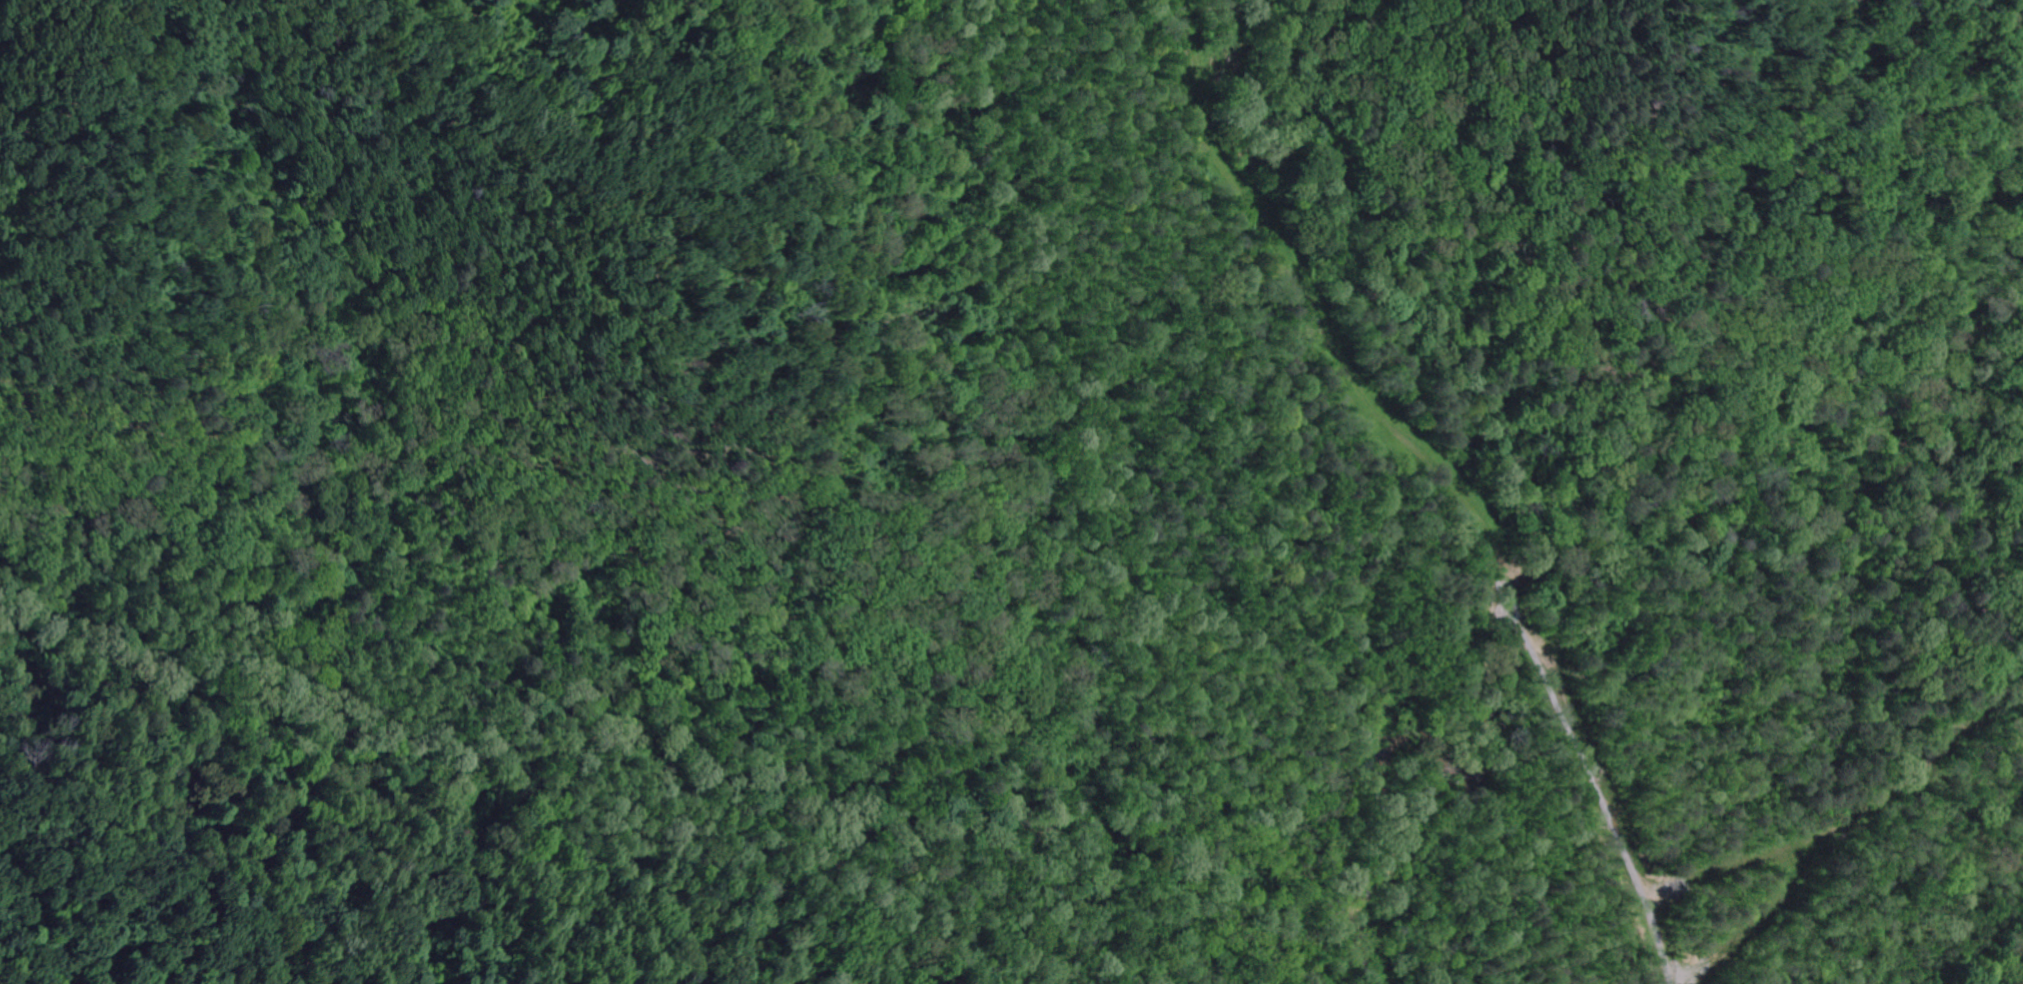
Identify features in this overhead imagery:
road: (1639, 883)

